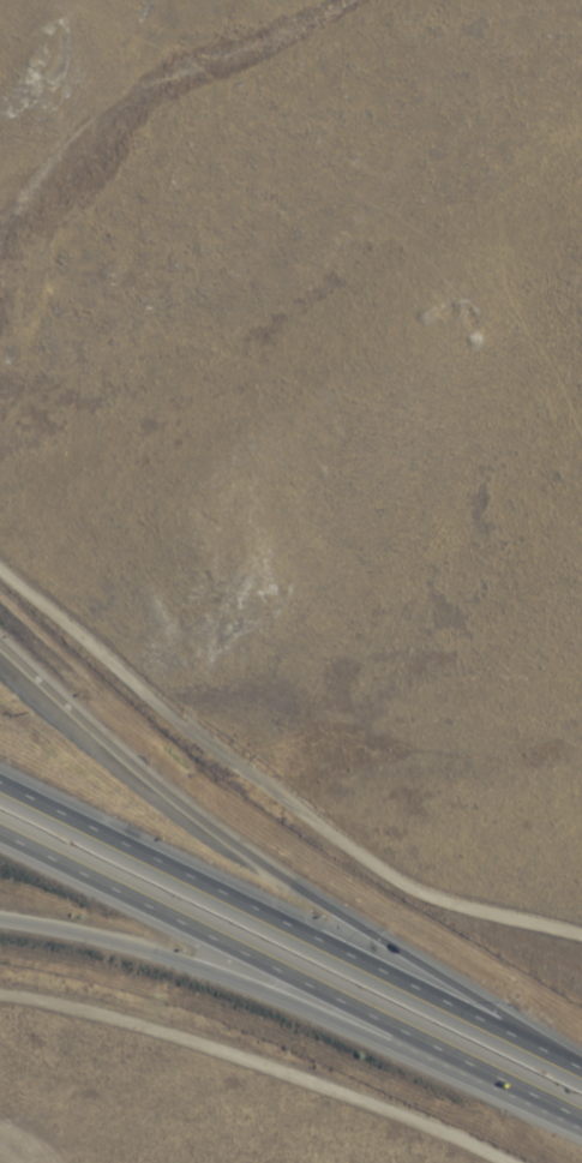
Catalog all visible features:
road: (265, 857)
road: (290, 923)
road: (290, 973)
road: (242, 977)

